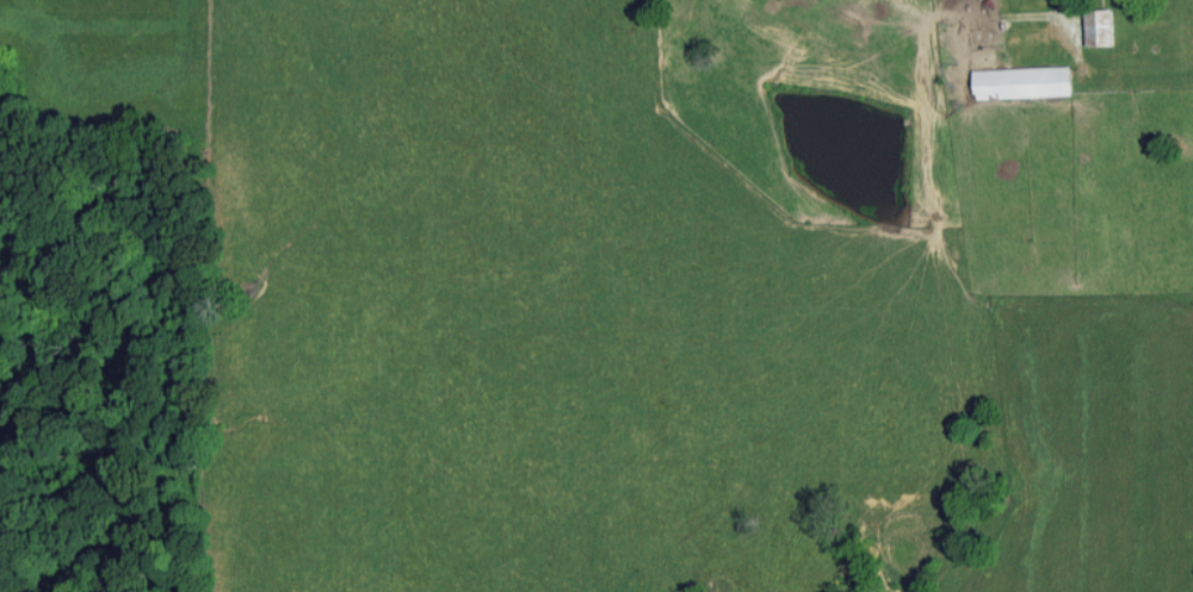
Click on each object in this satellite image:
building: (1099, 27)
building: (1022, 82)

